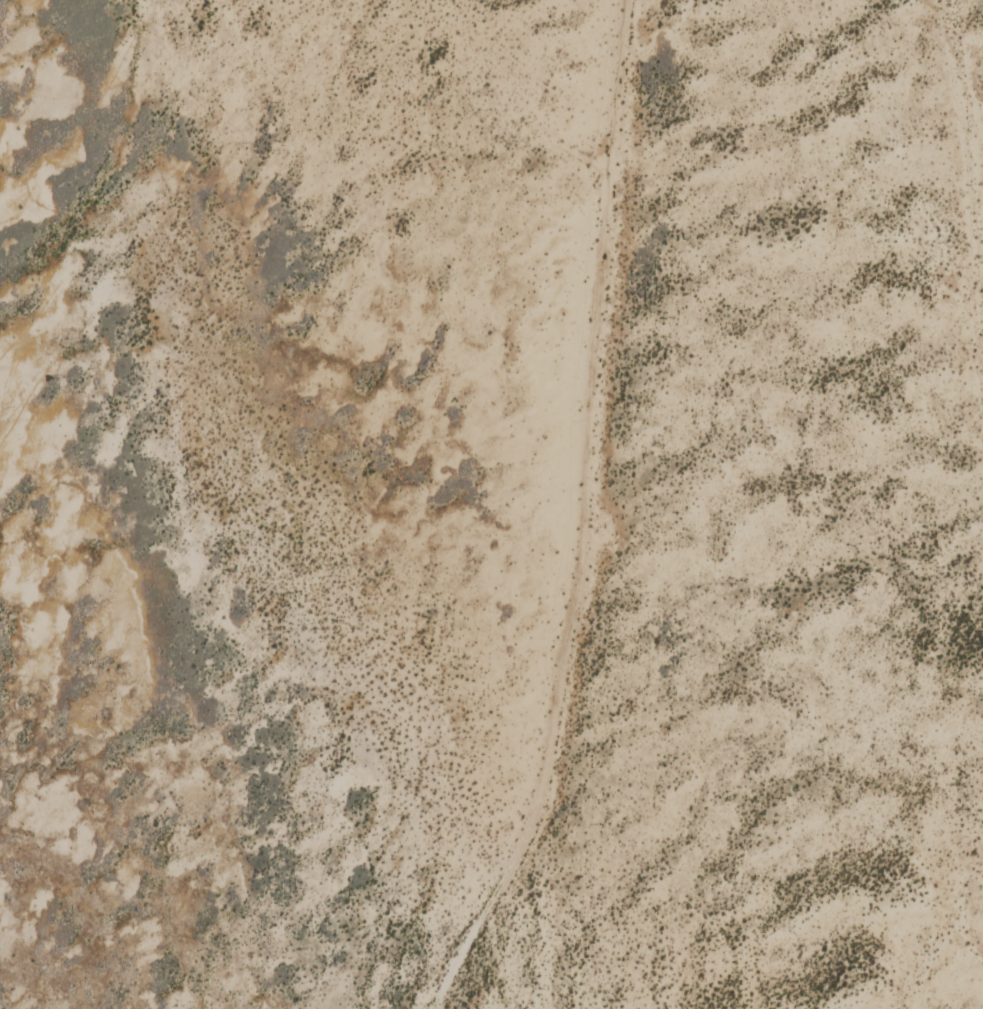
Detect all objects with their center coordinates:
road: (624, 516)

